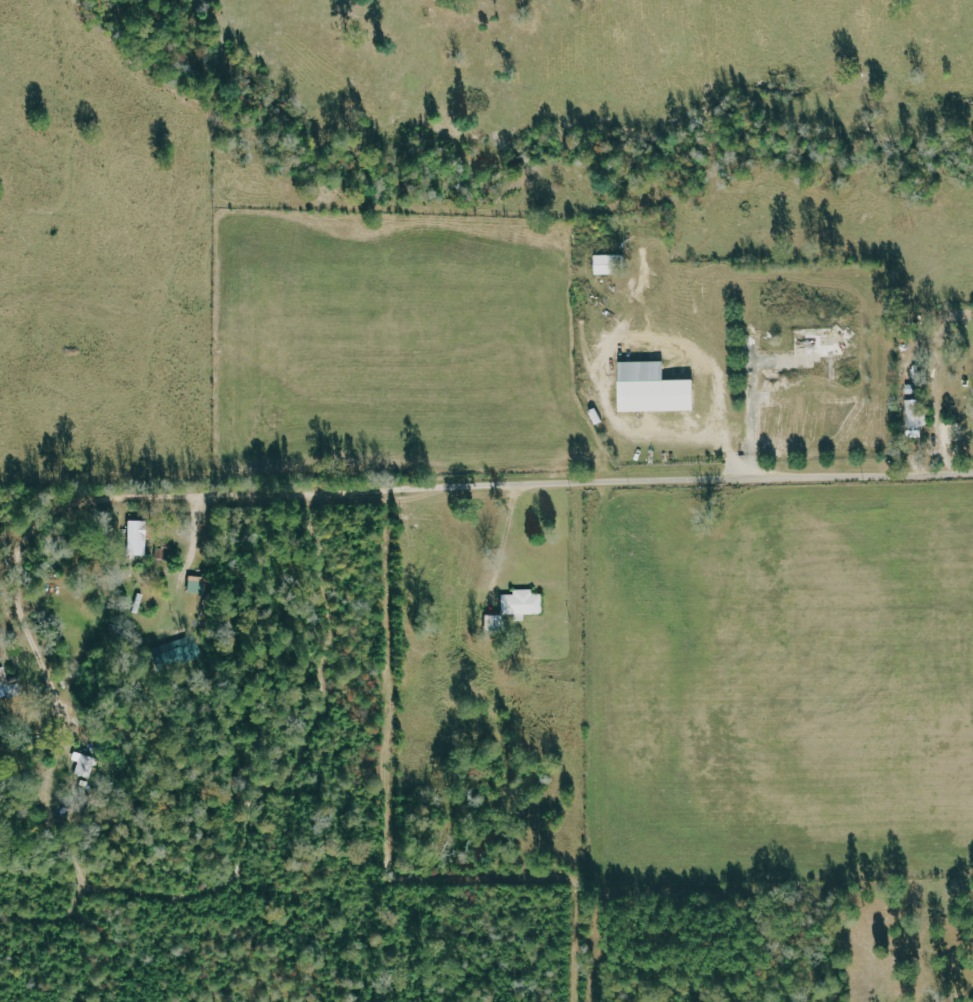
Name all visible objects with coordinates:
building: (650, 389)
building: (915, 417)
road: (483, 485)
building: (136, 537)
road: (196, 542)
road: (514, 542)
road: (19, 586)
building: (520, 603)
building: (176, 653)
road: (43, 660)
building: (86, 764)

